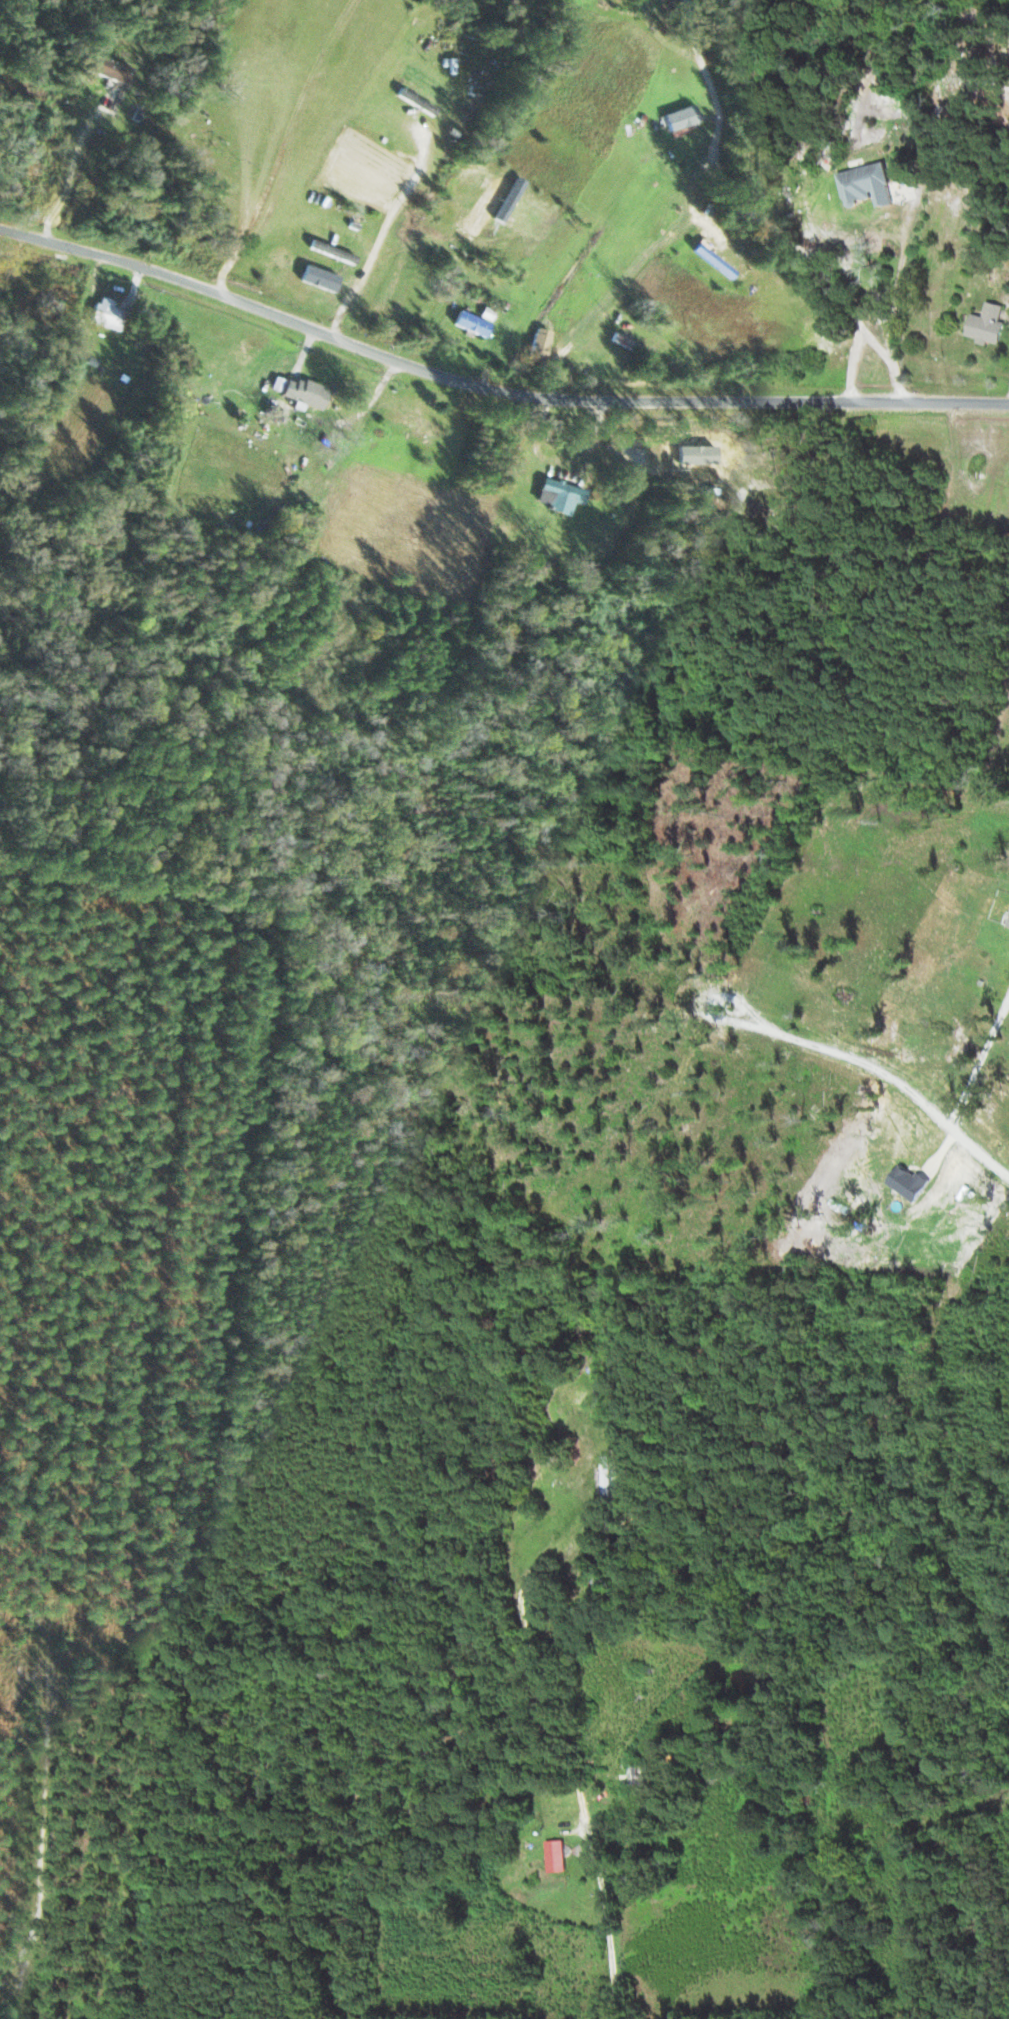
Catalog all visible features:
building: (110, 69)
building: (683, 119)
building: (826, 153)
building: (880, 155)
building: (900, 164)
road: (439, 168)
road: (896, 173)
building: (41, 190)
road: (794, 196)
building: (859, 207)
building: (334, 252)
building: (715, 261)
building: (2, 292)
building: (108, 314)
building: (476, 321)
building: (990, 323)
building: (629, 342)
building: (541, 345)
road: (489, 382)
building: (305, 392)
building: (561, 496)
road: (318, 538)
building: (581, 1398)
building: (605, 1584)
building: (639, 1775)
road: (591, 1813)
building: (557, 1856)

